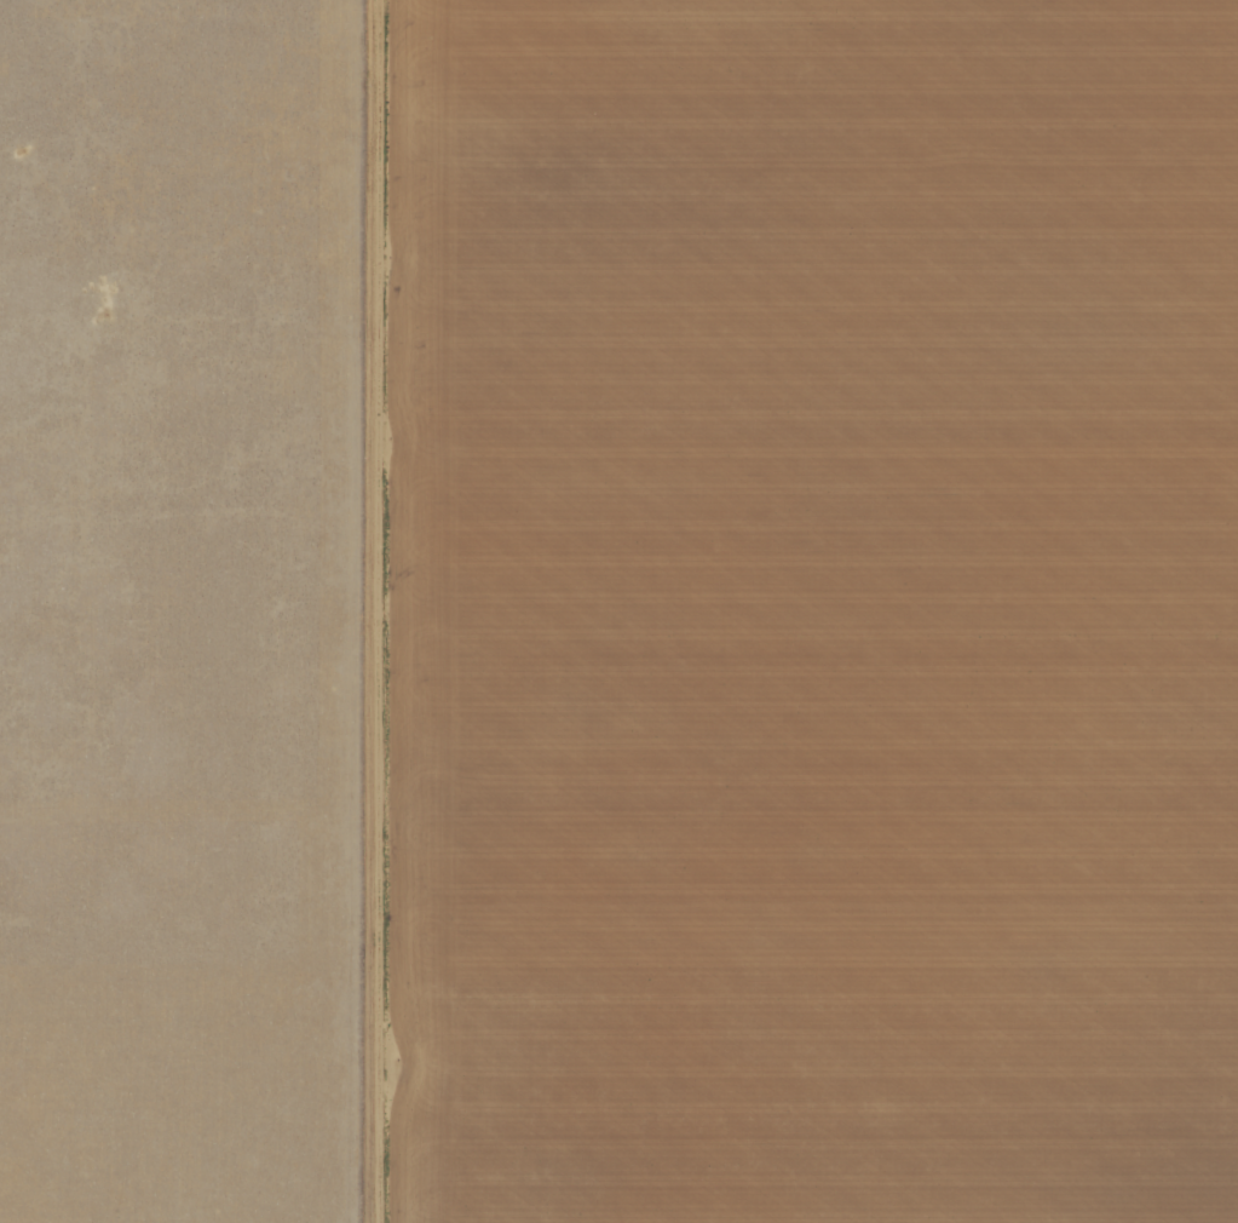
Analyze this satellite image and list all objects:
road: (381, 610)

